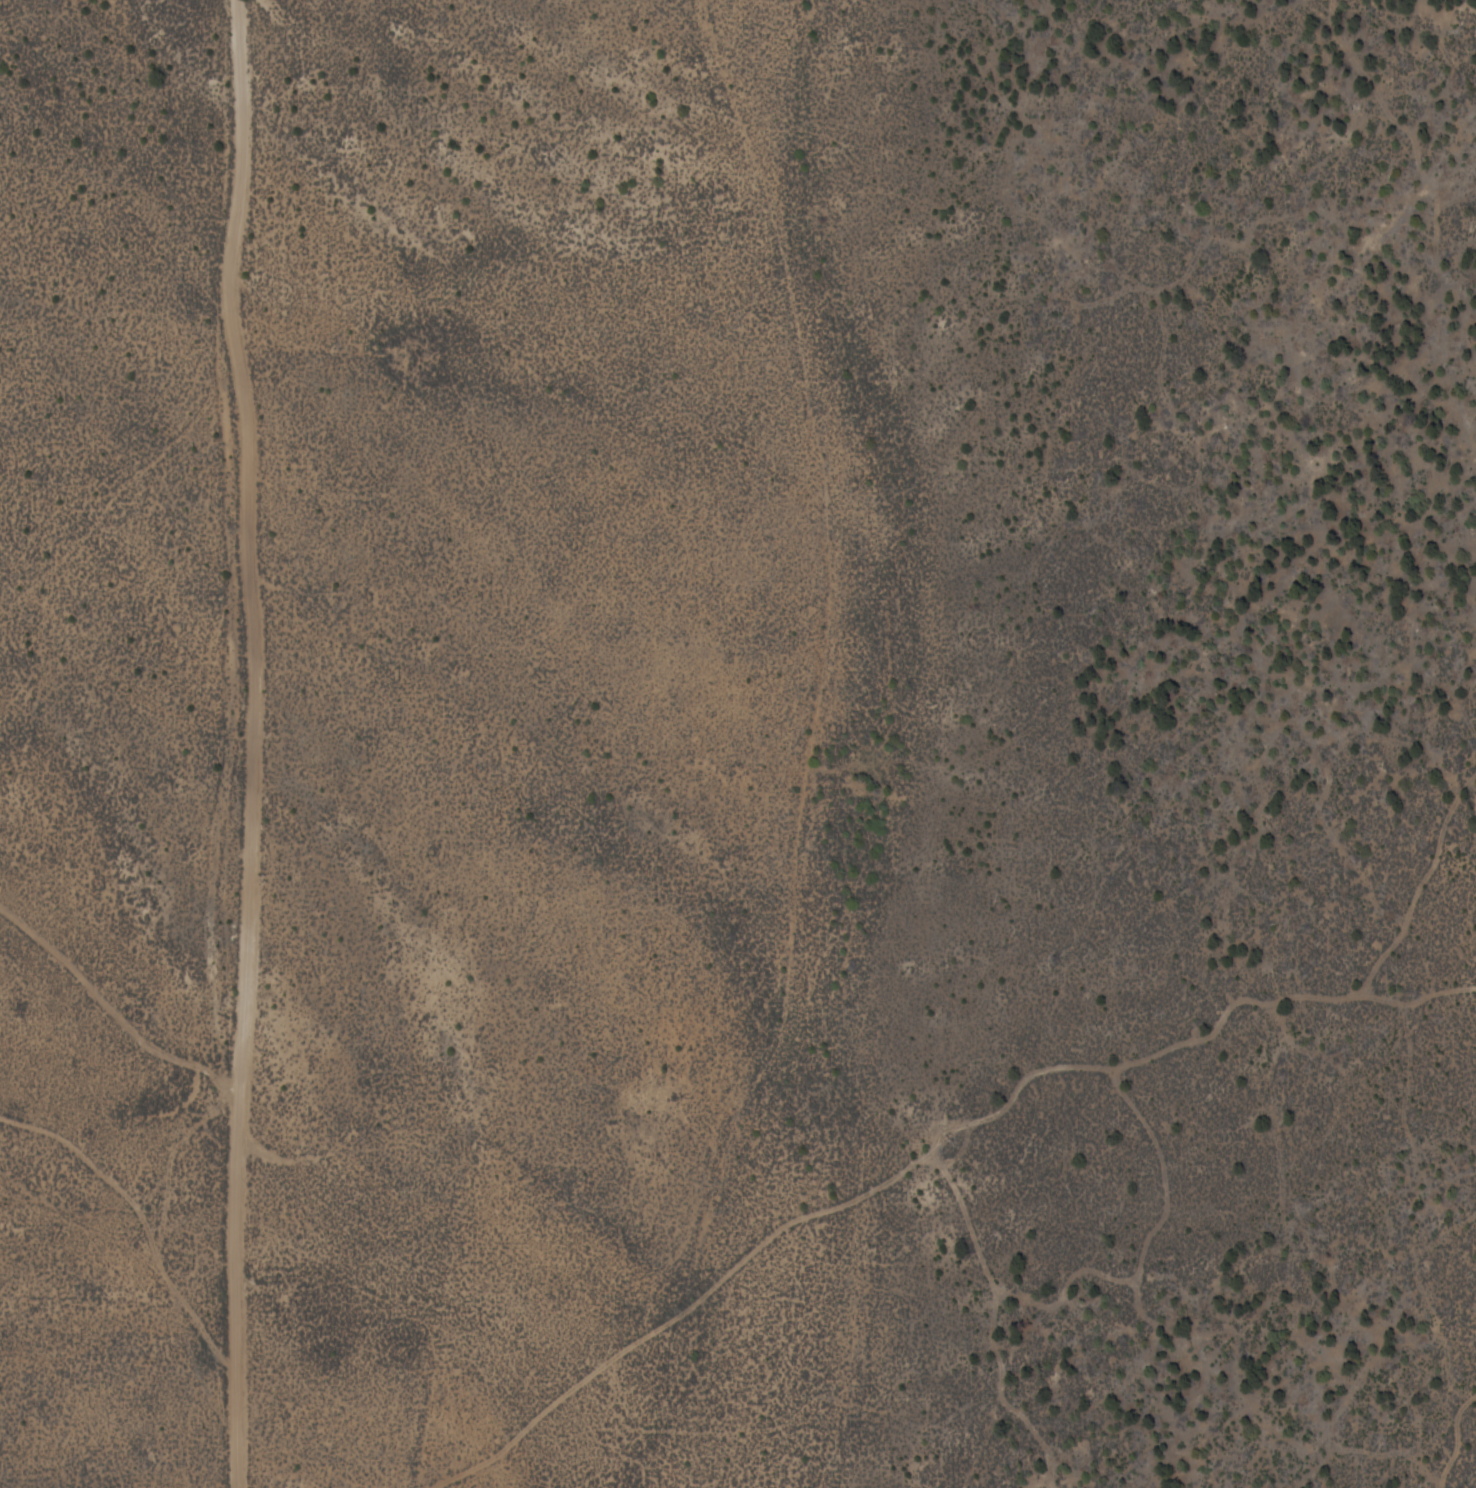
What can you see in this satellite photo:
road: (270, 744)

